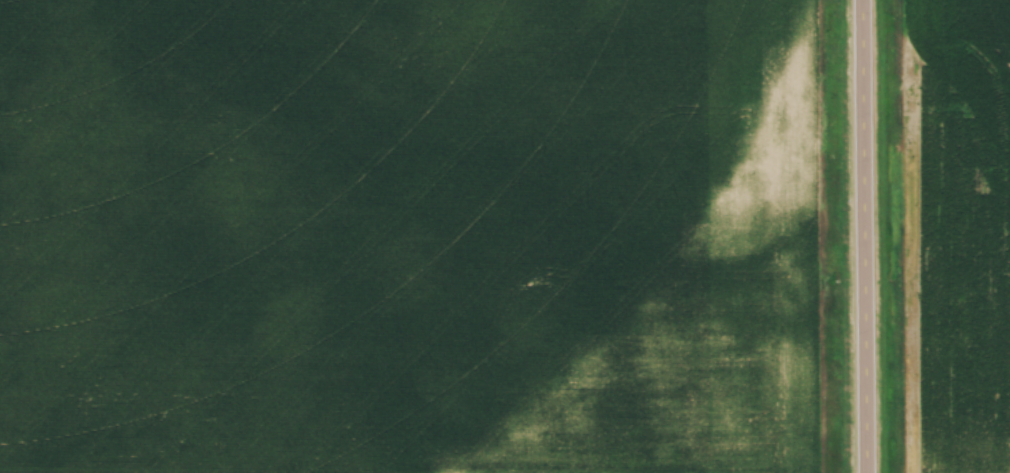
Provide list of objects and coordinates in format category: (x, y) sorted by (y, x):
road: (863, 236)

